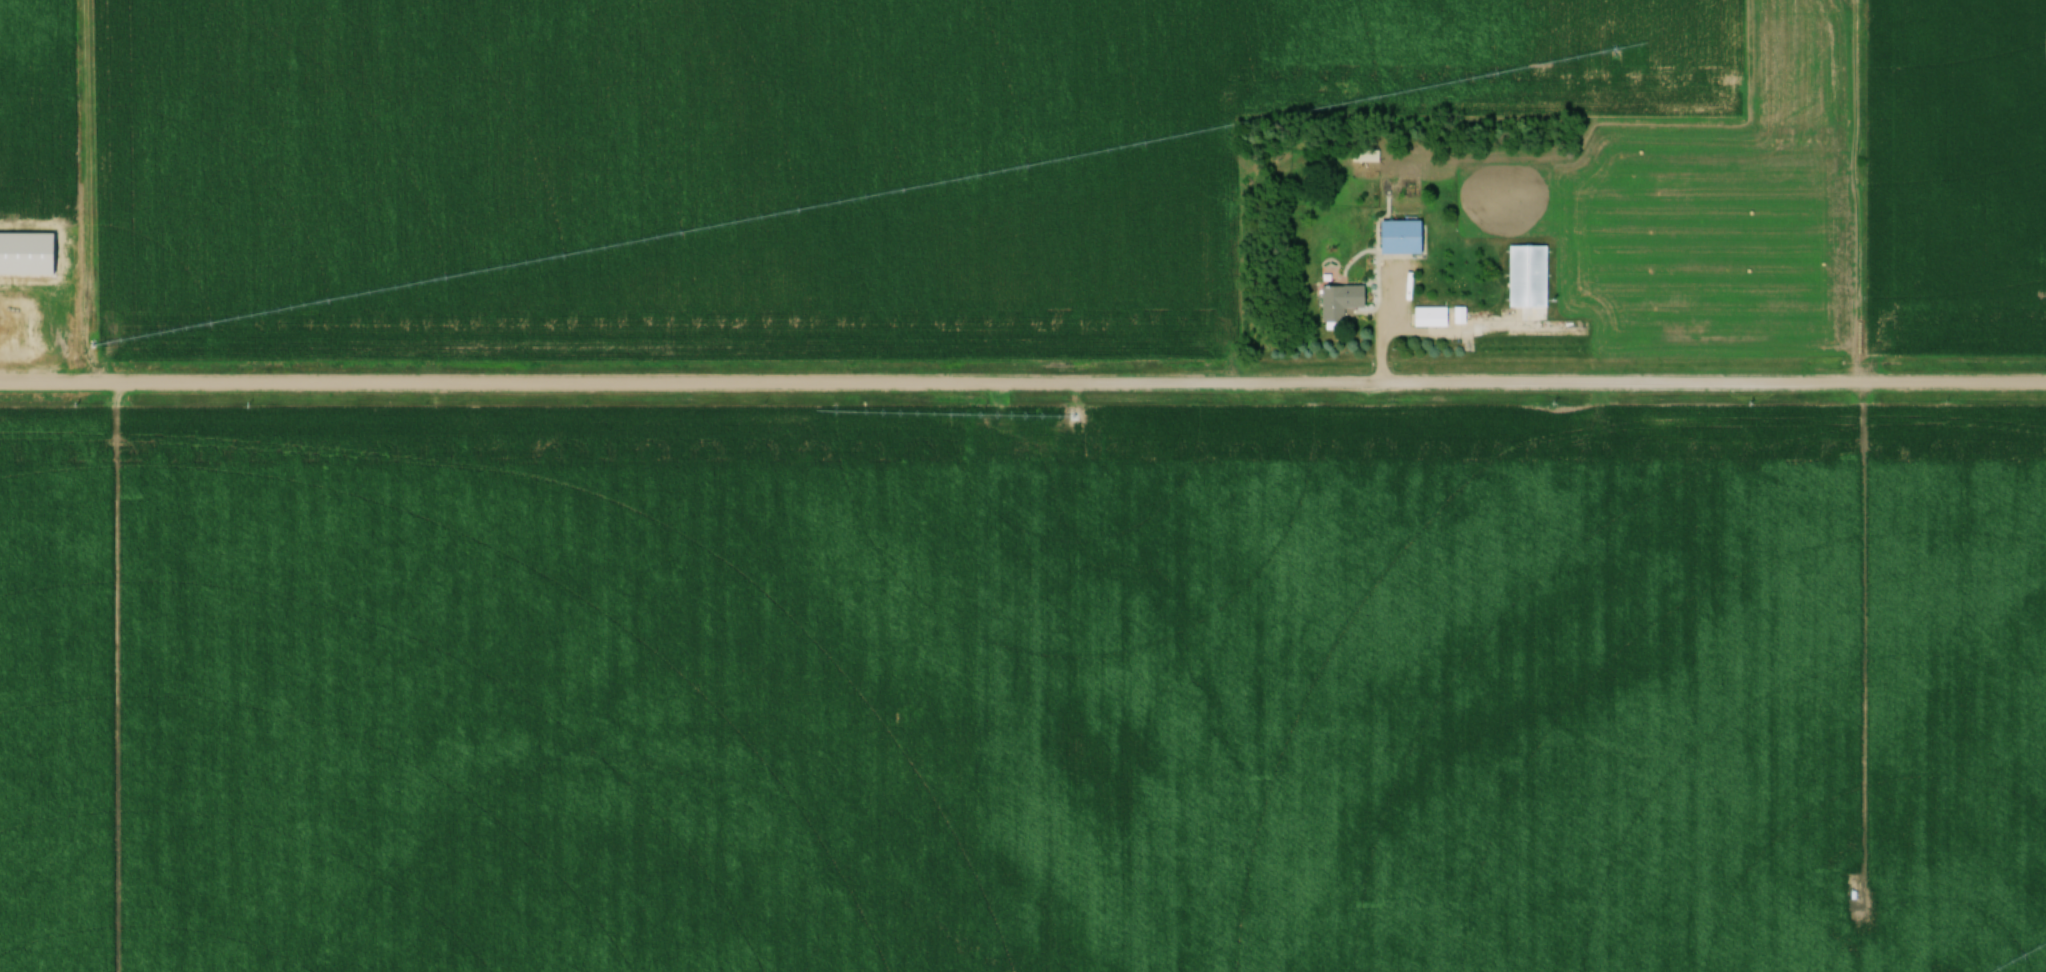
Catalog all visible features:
building: (1395, 238)
building: (1523, 277)
building: (1336, 302)
building: (1426, 317)
road: (1022, 385)

